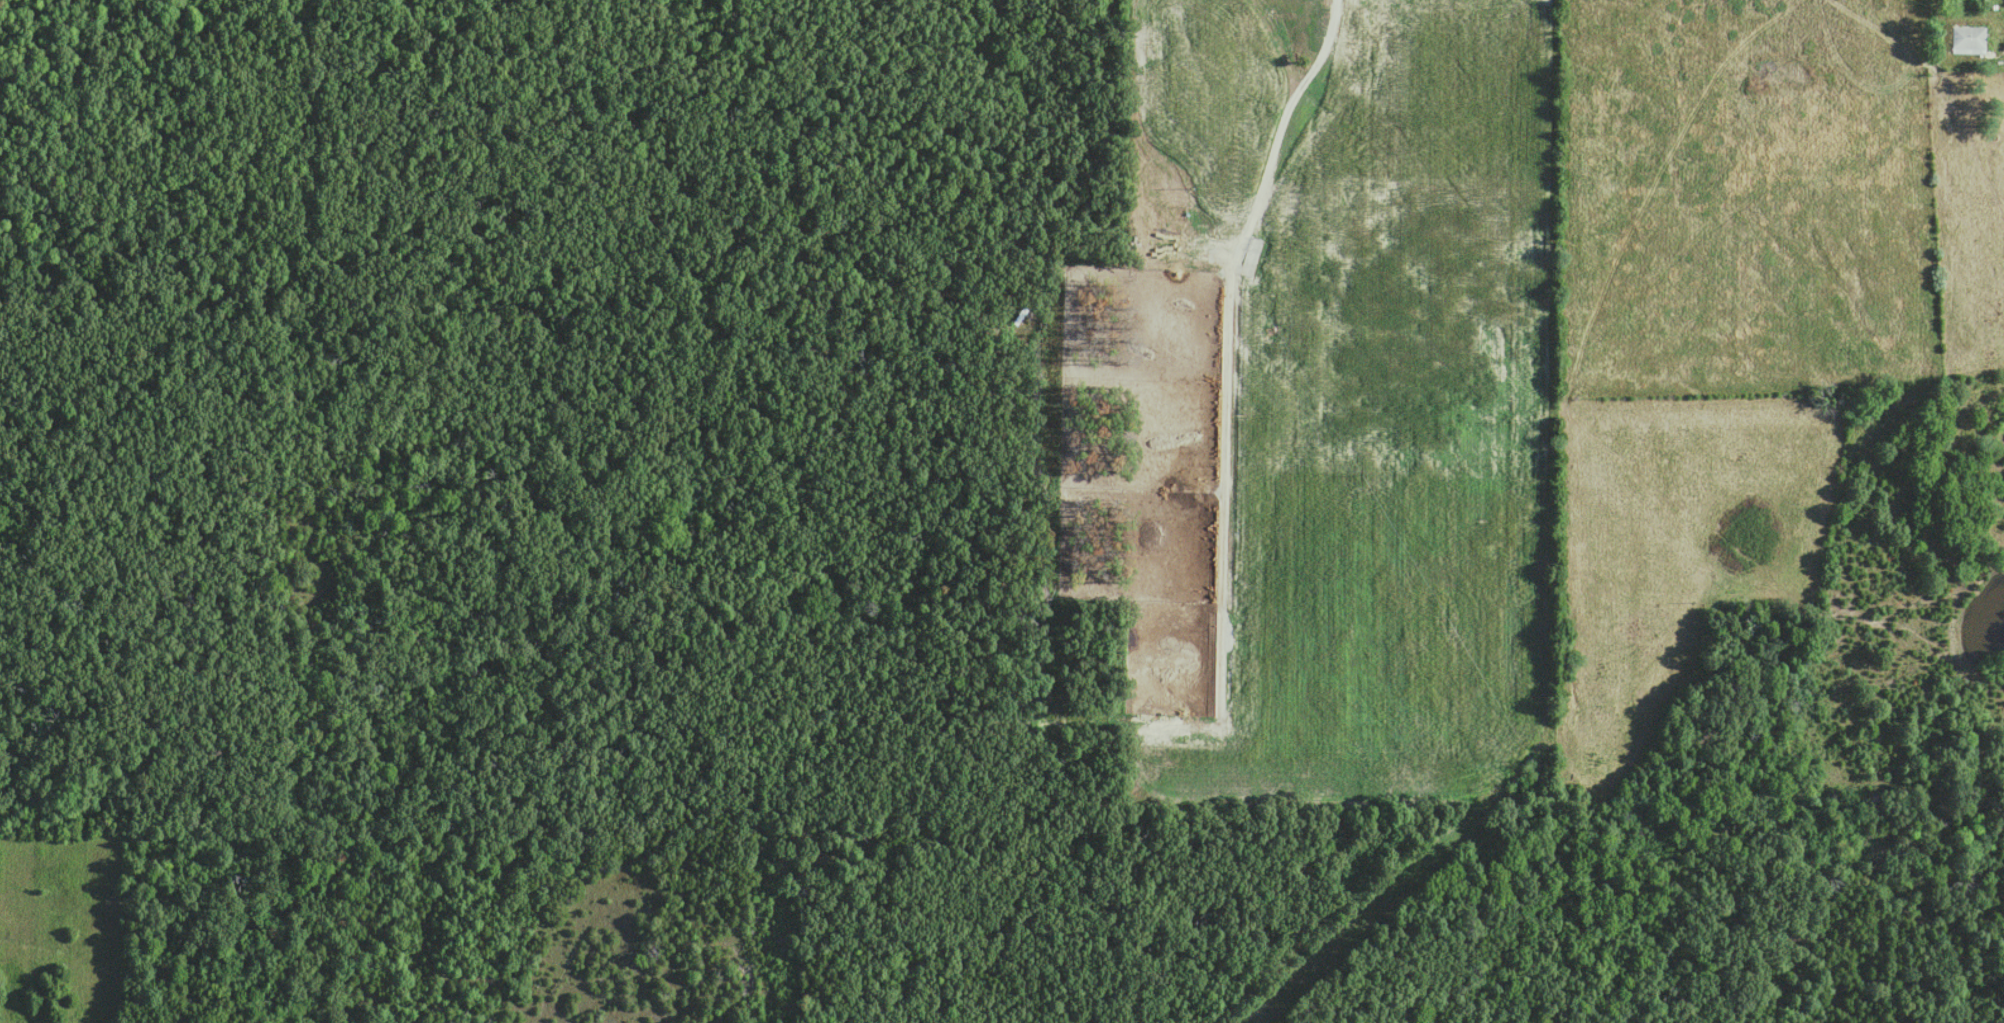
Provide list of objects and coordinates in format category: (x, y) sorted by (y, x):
building: (1976, 31)
road: (565, 963)

